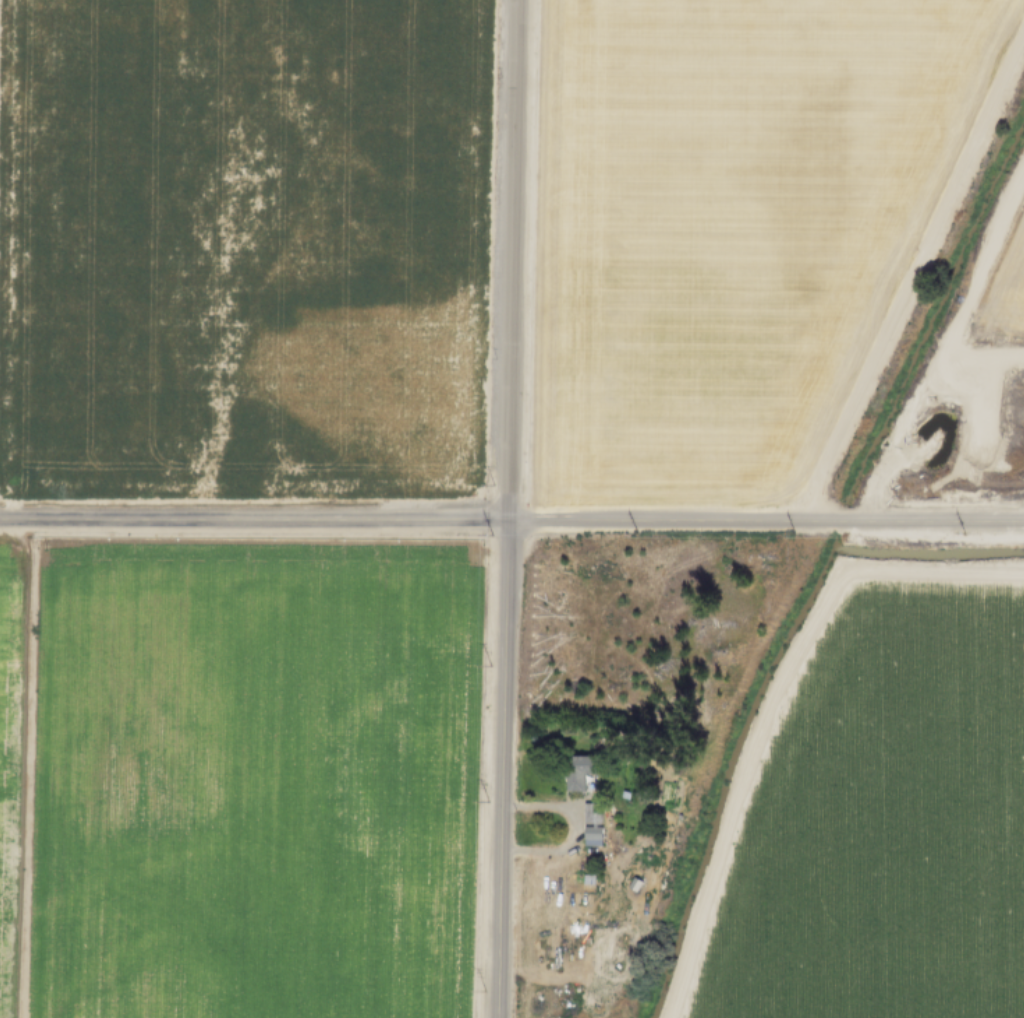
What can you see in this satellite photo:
road: (512, 261)
road: (910, 271)
road: (943, 338)
road: (980, 355)
road: (1020, 517)
road: (767, 519)
road: (254, 520)
road: (772, 703)
building: (572, 765)
road: (27, 769)
road: (504, 770)
building: (590, 810)
road: (572, 830)
building: (588, 830)
building: (586, 877)
building: (632, 883)

